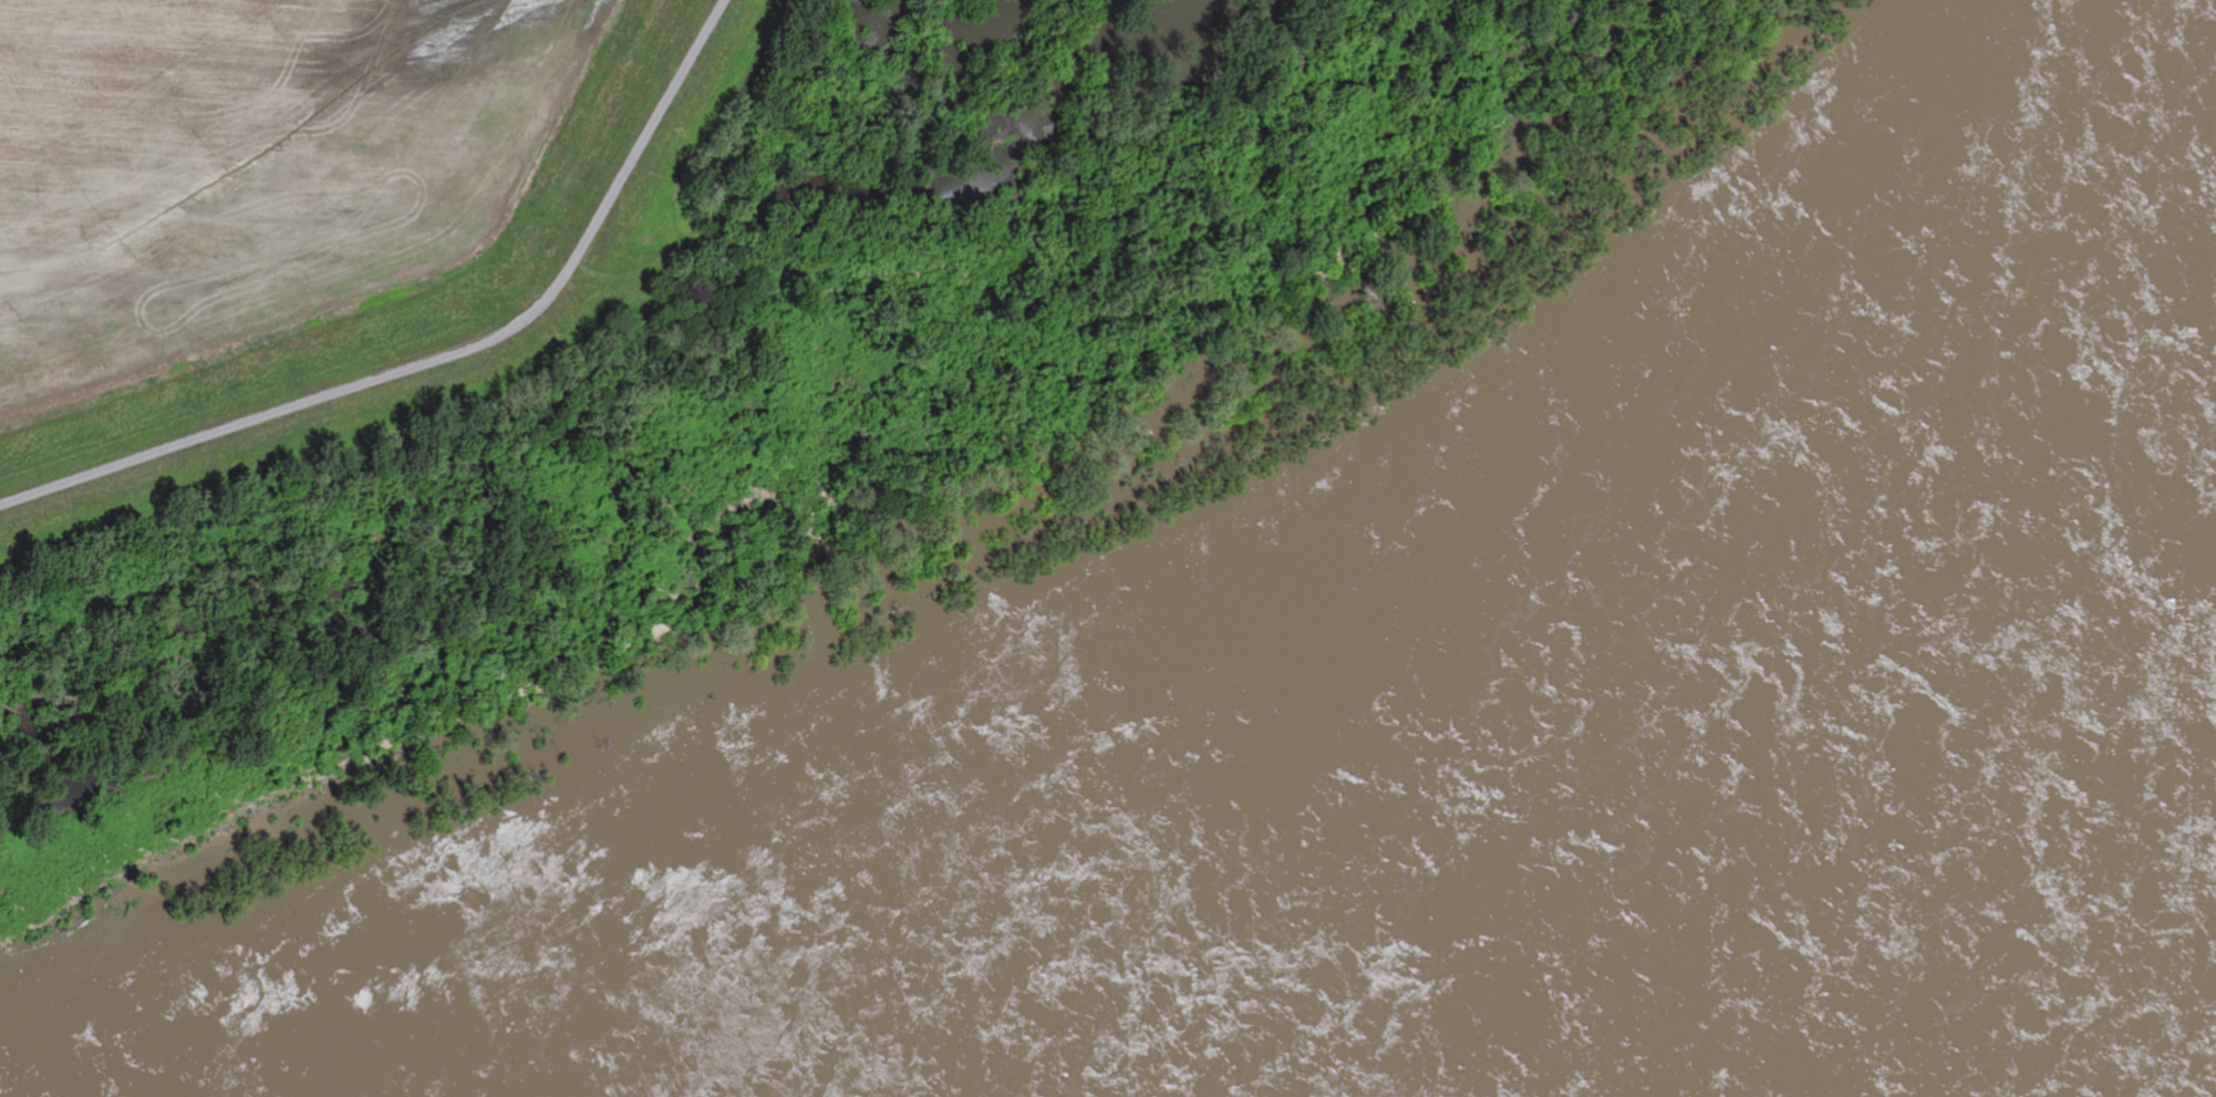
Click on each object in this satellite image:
road: (444, 355)

